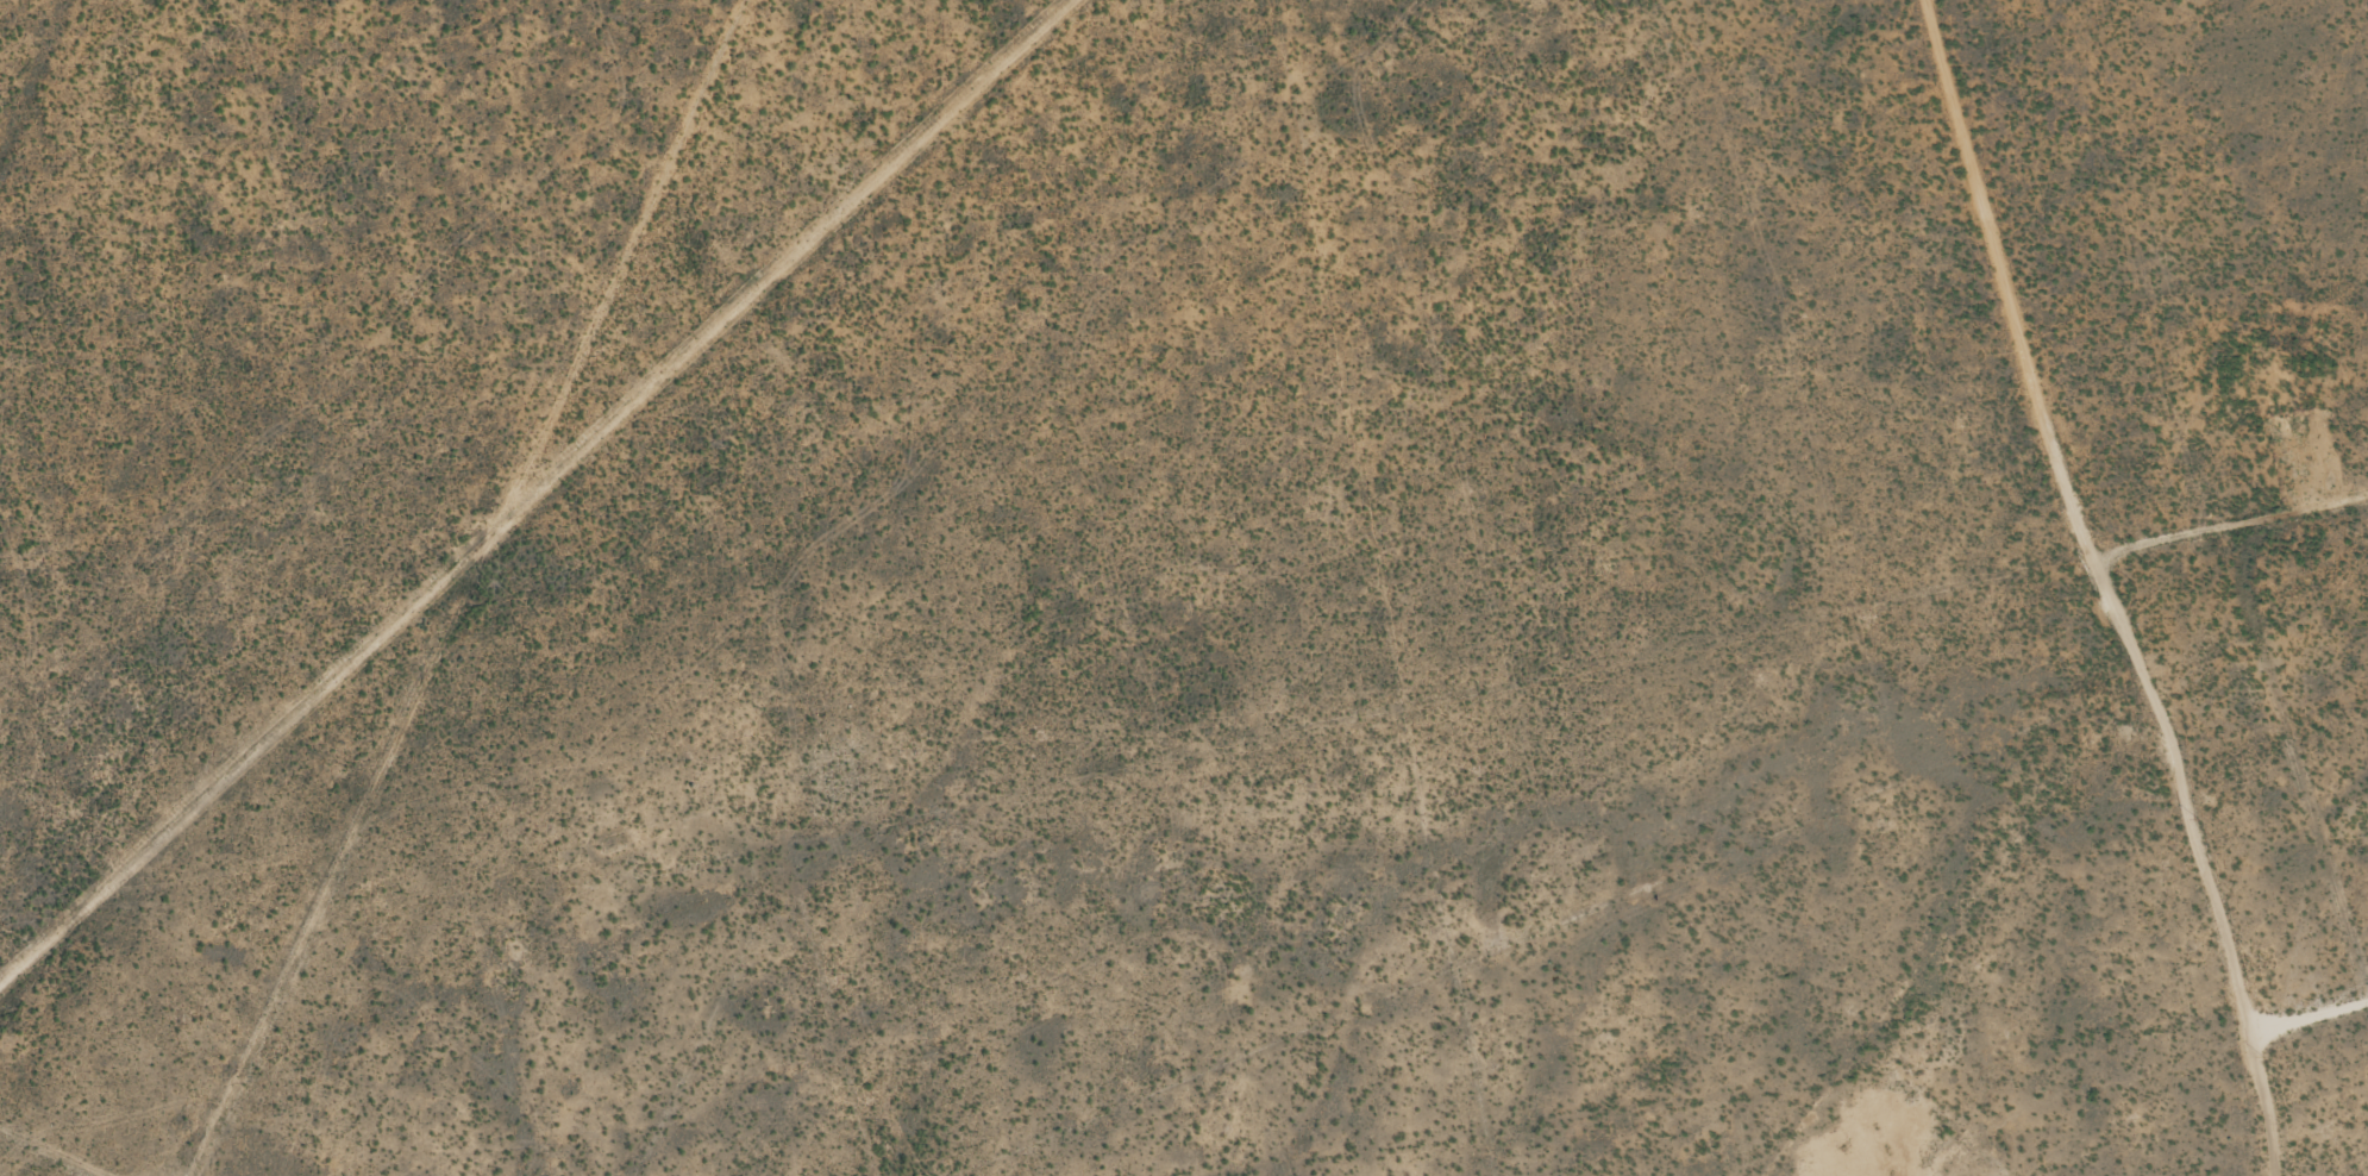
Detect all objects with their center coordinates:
road: (2110, 587)

